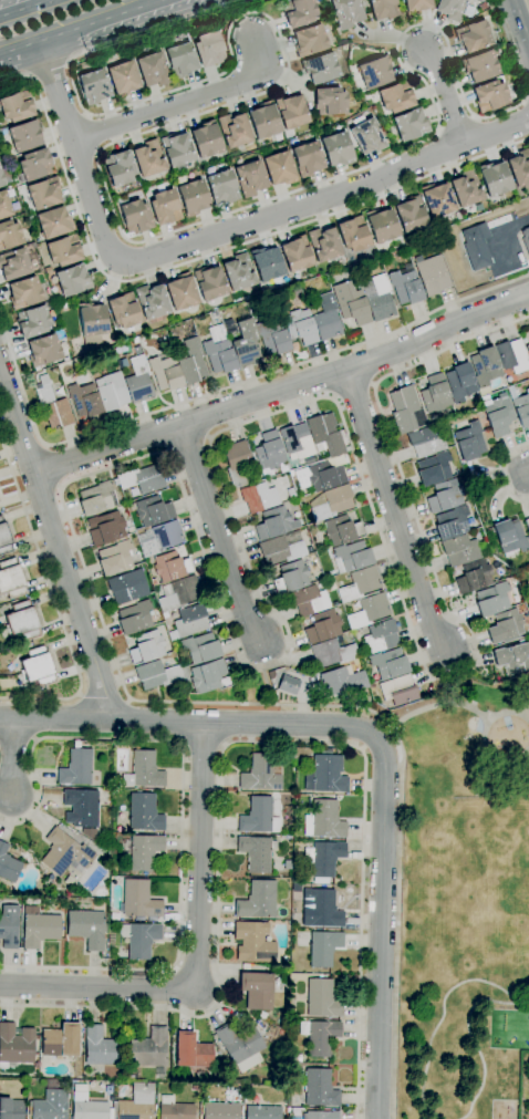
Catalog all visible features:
building: (415, 6)
road: (25, 8)
building: (383, 9)
building: (450, 9)
building: (468, 11)
building: (298, 12)
building: (345, 12)
road: (521, 19)
road: (80, 27)
building: (473, 37)
building: (309, 41)
building: (209, 50)
building: (180, 60)
building: (479, 66)
building: (320, 68)
building: (153, 70)
road: (48, 71)
building: (374, 73)
building: (123, 79)
building: (94, 86)
road: (447, 95)
building: (395, 96)
building: (489, 96)
building: (330, 101)
road: (186, 102)
building: (17, 106)
road: (526, 111)
building: (290, 112)
building: (263, 120)
building: (409, 125)
building: (234, 129)
building: (22, 135)
building: (366, 135)
building: (206, 139)
building: (336, 148)
building: (176, 149)
building: (148, 158)
building: (307, 158)
building: (12, 160)
building: (33, 166)
building: (519, 167)
building: (118, 168)
building: (279, 168)
building: (250, 178)
building: (494, 178)
building: (1, 179)
building: (221, 187)
building: (467, 188)
building: (43, 193)
road: (107, 195)
building: (191, 197)
building: (437, 199)
building: (3, 205)
building: (165, 207)
building: (409, 214)
building: (457, 216)
building: (135, 217)
building: (30, 218)
building: (52, 222)
building: (382, 225)
building: (353, 234)
building: (9, 235)
road: (215, 235)
building: (526, 238)
road: (506, 239)
building: (323, 244)
building: (476, 246)
building: (63, 250)
building: (295, 255)
road: (203, 257)
building: (34, 259)
building: (266, 263)
building: (13, 265)
building: (46, 270)
building: (239, 272)
building: (432, 274)
building: (72, 280)
building: (209, 282)
building: (405, 286)
building: (180, 292)
building: (24, 293)
building: (377, 298)
building: (152, 301)
building: (351, 303)
building: (123, 311)
building: (326, 318)
building: (91, 320)
building: (32, 321)
building: (300, 327)
building: (272, 336)
building: (246, 343)
building: (527, 349)
building: (43, 351)
building: (219, 351)
building: (511, 355)
building: (189, 361)
building: (123, 363)
building: (485, 366)
building: (165, 372)
building: (138, 381)
building: (459, 382)
road: (228, 387)
building: (111, 391)
road: (282, 391)
building: (435, 394)
building: (84, 400)
building: (52, 405)
building: (520, 407)
building: (406, 410)
building: (498, 416)
building: (325, 434)
building: (295, 439)
building: (425, 442)
building: (469, 442)
building: (269, 454)
building: (237, 463)
road: (52, 466)
building: (435, 469)
road: (501, 472)
building: (320, 476)
building: (141, 480)
building: (445, 496)
building: (258, 497)
building: (96, 499)
building: (330, 502)
building: (153, 510)
road: (392, 510)
building: (452, 522)
building: (274, 524)
building: (527, 526)
building: (106, 528)
building: (341, 530)
road: (217, 533)
building: (509, 536)
building: (4, 538)
building: (158, 538)
road: (55, 547)
building: (282, 548)
building: (460, 550)
building: (351, 557)
building: (115, 559)
building: (528, 566)
building: (170, 567)
building: (473, 576)
building: (291, 577)
building: (11, 579)
building: (360, 583)
building: (126, 587)
building: (178, 593)
building: (491, 599)
building: (309, 600)
road: (54, 601)
building: (369, 610)
building: (134, 618)
building: (188, 621)
building: (20, 622)
building: (322, 626)
building: (505, 626)
building: (380, 636)
building: (146, 646)
building: (200, 649)
building: (332, 653)
building: (511, 655)
building: (388, 664)
building: (37, 666)
road: (249, 666)
building: (155, 675)
building: (206, 676)
building: (283, 682)
building: (342, 682)
road: (269, 687)
road: (453, 690)
building: (398, 691)
road: (104, 700)
road: (460, 704)
road: (528, 718)
road: (187, 722)
road: (236, 743)
road: (203, 746)
road: (11, 757)
building: (75, 767)
building: (143, 771)
building: (260, 773)
building: (328, 773)
building: (82, 807)
building: (144, 812)
road: (181, 814)
building: (258, 817)
building: (323, 820)
building: (142, 851)
building: (257, 852)
building: (64, 853)
building: (323, 857)
building: (8, 866)
building: (138, 899)
building: (258, 900)
park: (461, 902)
building: (320, 909)
road: (380, 925)
building: (9, 926)
building: (38, 928)
building: (86, 928)
building: (139, 939)
building: (253, 943)
building: (323, 947)
road: (197, 954)
building: (257, 991)
building: (321, 999)
building: (320, 1036)
building: (60, 1040)
building: (14, 1046)
building: (240, 1046)
building: (101, 1047)
building: (148, 1048)
building: (191, 1051)
building: (319, 1089)
building: (135, 1104)
building: (50, 1105)
building: (86, 1105)
building: (10, 1109)
building: (174, 1109)
building: (220, 1111)
building: (261, 1112)
building: (110, 1113)
building: (320, 1115)

